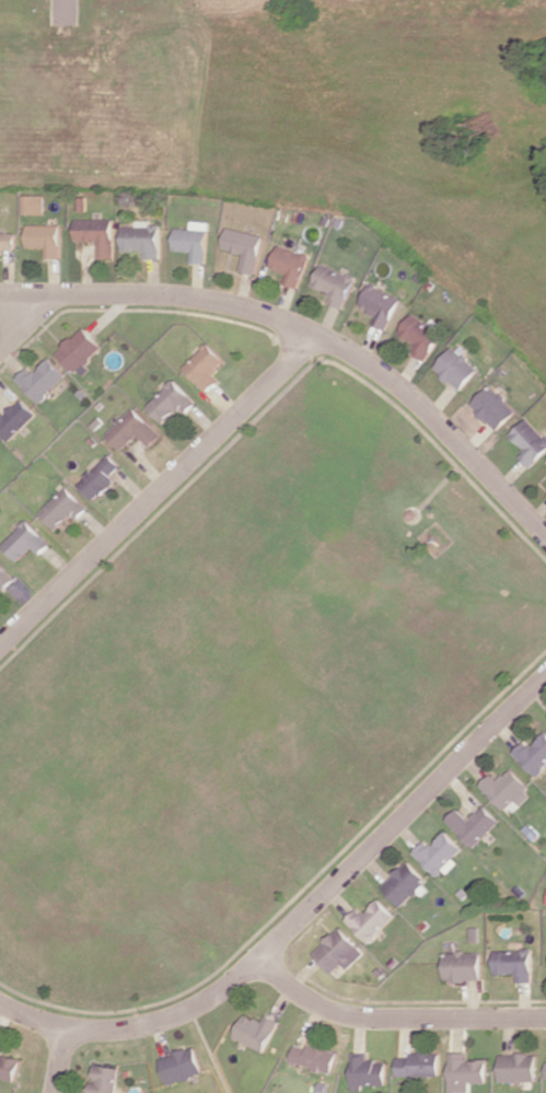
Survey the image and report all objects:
park: (303, 121)
building: (34, 204)
building: (95, 233)
building: (141, 237)
building: (44, 239)
building: (7, 241)
building: (191, 241)
building: (243, 247)
building: (289, 264)
building: (333, 282)
building: (377, 305)
road: (18, 323)
road: (309, 333)
building: (418, 336)
building: (79, 349)
building: (204, 367)
building: (453, 368)
building: (40, 379)
building: (170, 402)
building: (490, 407)
building: (14, 419)
building: (132, 430)
building: (527, 441)
building: (545, 462)
building: (100, 477)
road: (156, 491)
building: (63, 508)
building: (25, 540)
building: (5, 577)
park: (247, 697)
building: (534, 755)
building: (508, 789)
building: (474, 824)
building: (438, 853)
building: (403, 883)
road: (300, 916)
building: (370, 919)
building: (337, 951)
building: (513, 963)
building: (461, 965)
road: (394, 1018)
building: (257, 1031)
building: (315, 1057)
road: (59, 1060)
building: (419, 1063)
building: (10, 1065)
building: (182, 1065)
building: (519, 1066)
building: (368, 1071)
building: (466, 1071)
building: (105, 1079)

